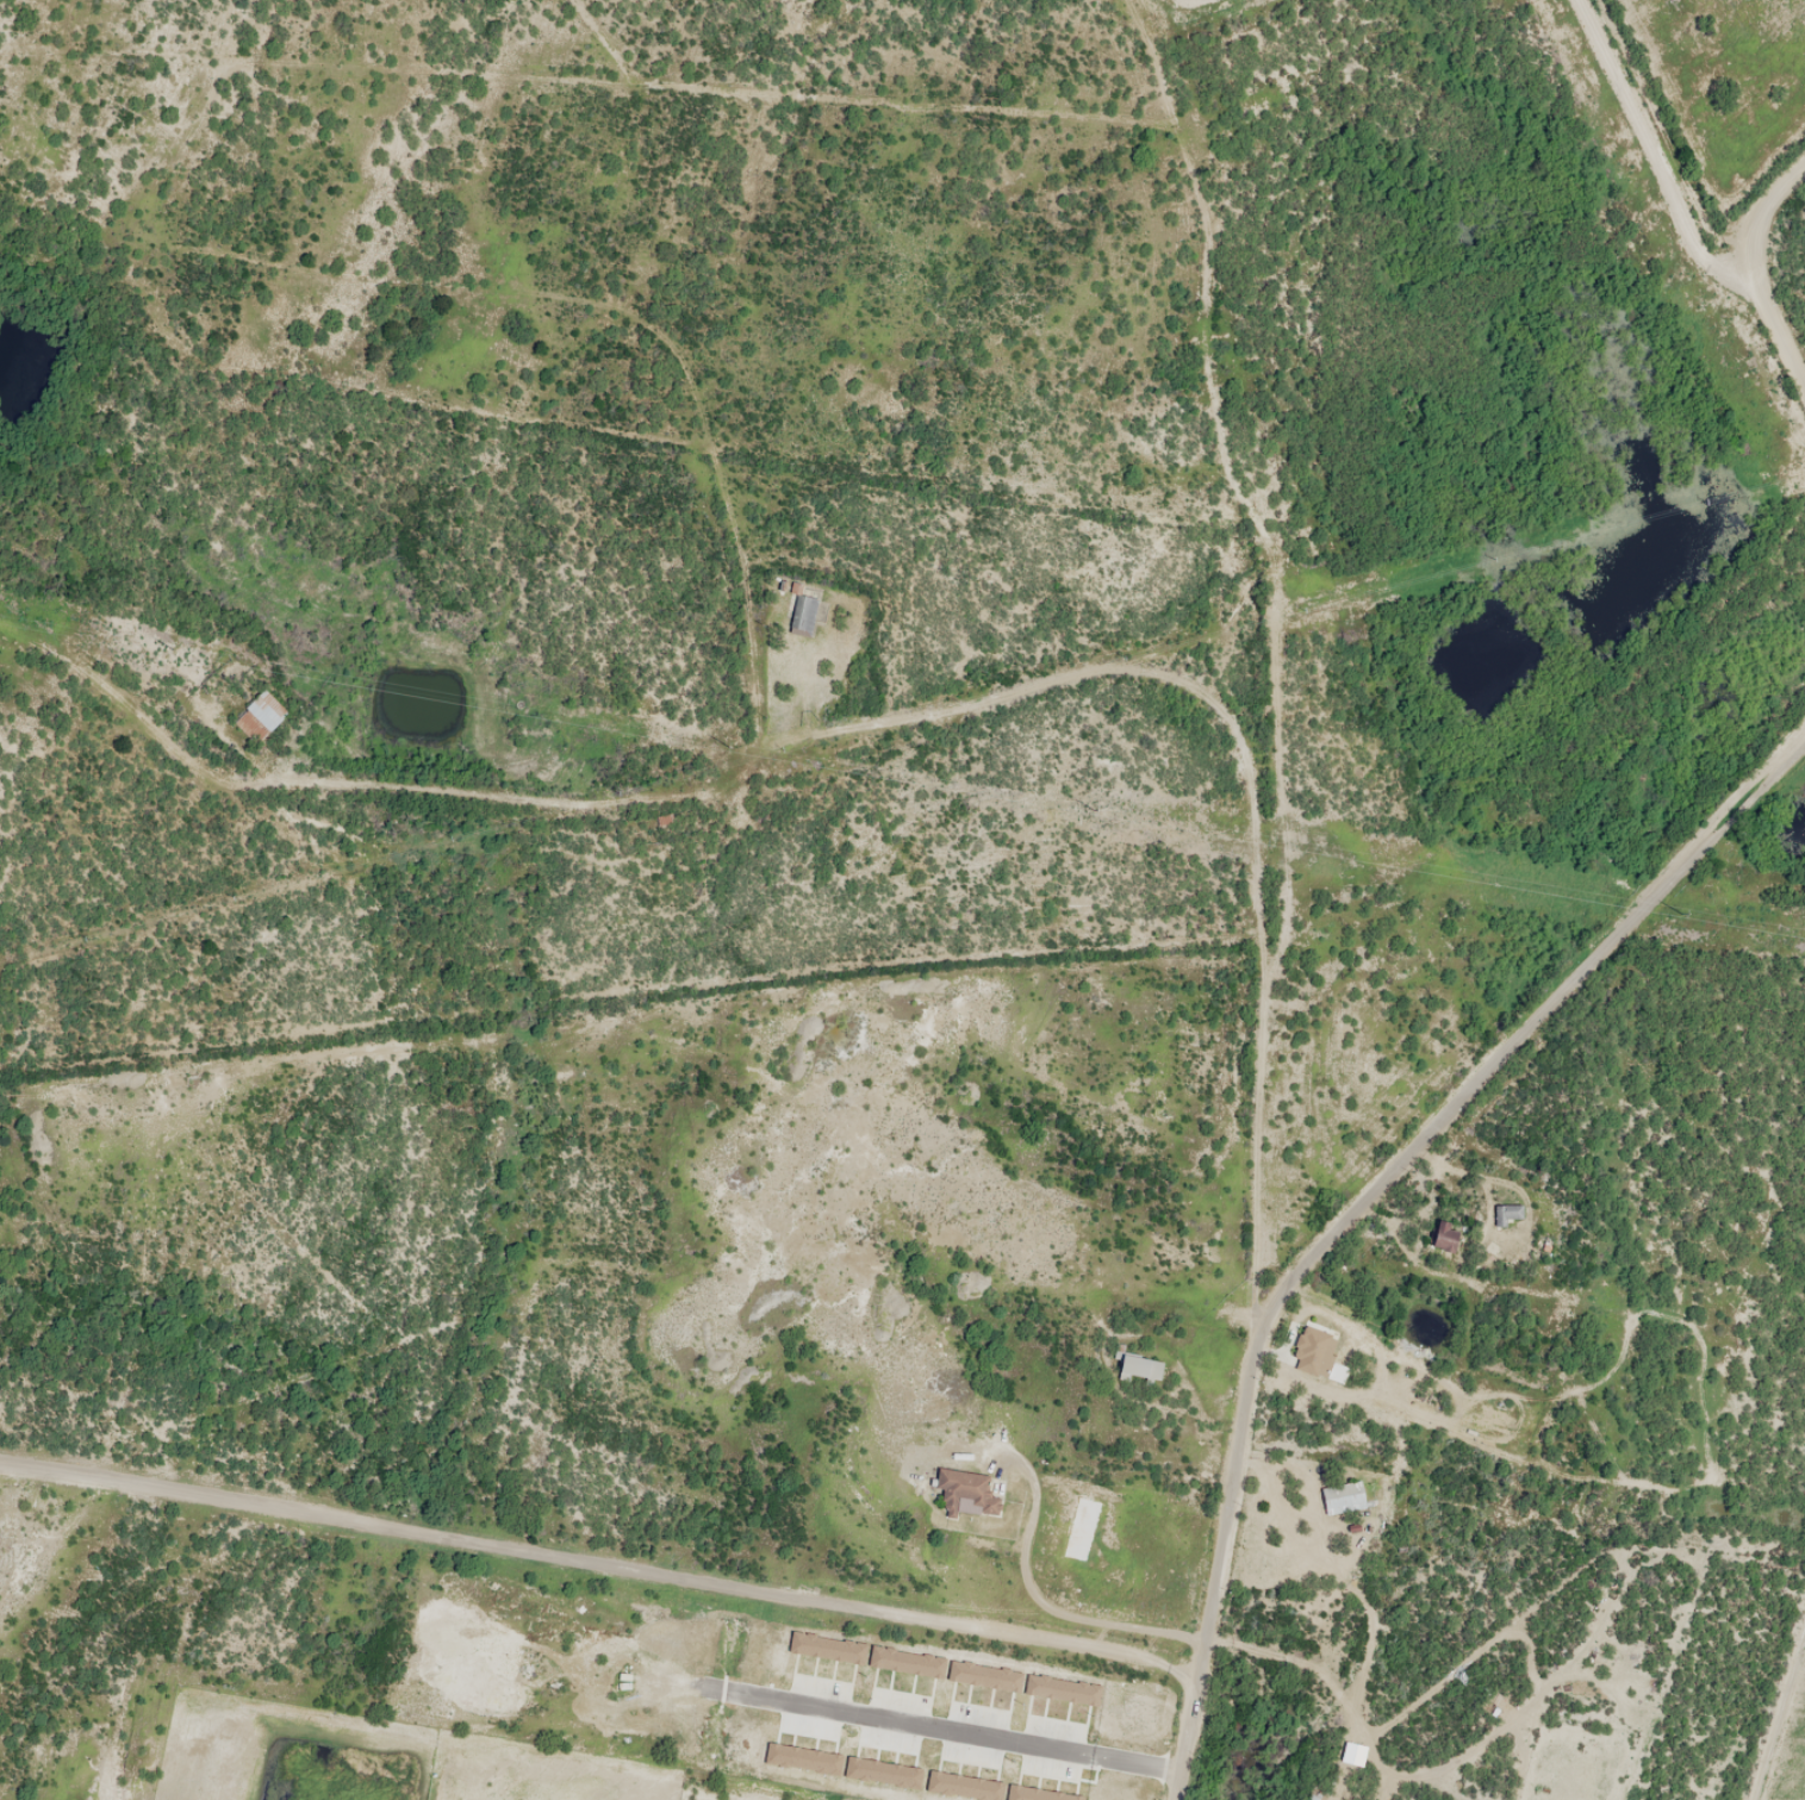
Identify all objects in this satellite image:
road: (1803, 274)
road: (546, 287)
building: (801, 615)
road: (1209, 661)
road: (596, 777)
road: (1514, 988)
building: (1506, 1213)
building: (1444, 1234)
building: (1139, 1369)
building: (964, 1493)
building: (1343, 1496)
road: (1213, 1567)
building: (1495, 1705)
building: (1308, 1792)

